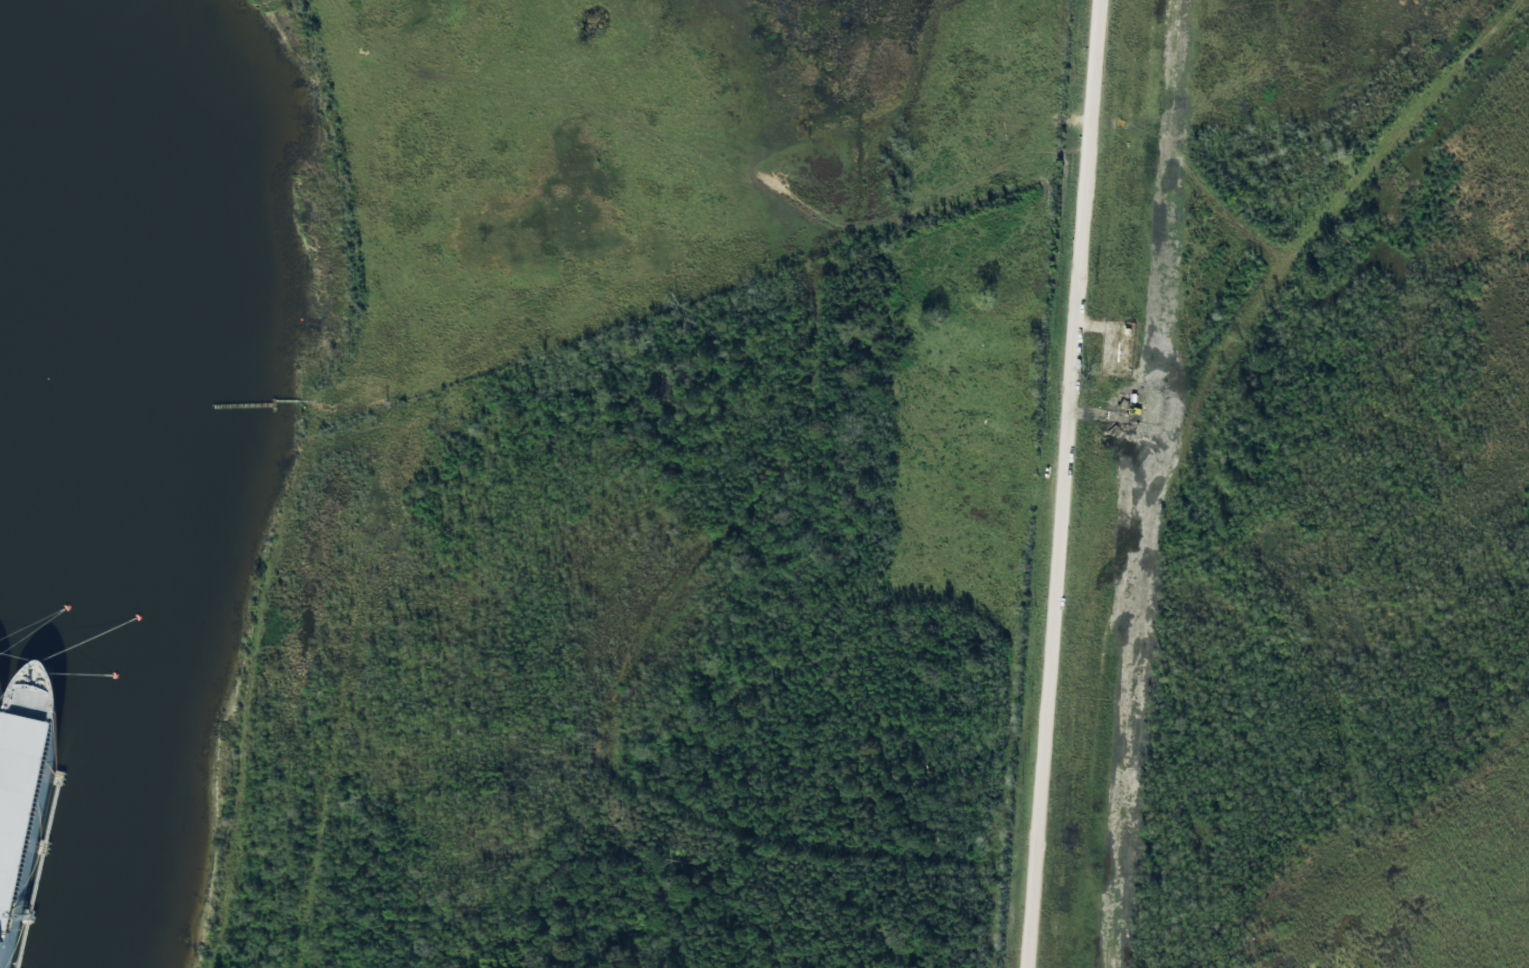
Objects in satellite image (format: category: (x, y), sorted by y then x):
road: (618, 120)
road: (1186, 158)
road: (294, 400)
pier: (243, 404)
pier: (273, 404)
pier: (387, 404)
road: (1197, 441)
road: (1060, 483)
building: (28, 777)
pier: (58, 778)
road: (53, 813)
pier: (44, 847)
road: (38, 882)
pier: (28, 916)
road: (23, 946)

